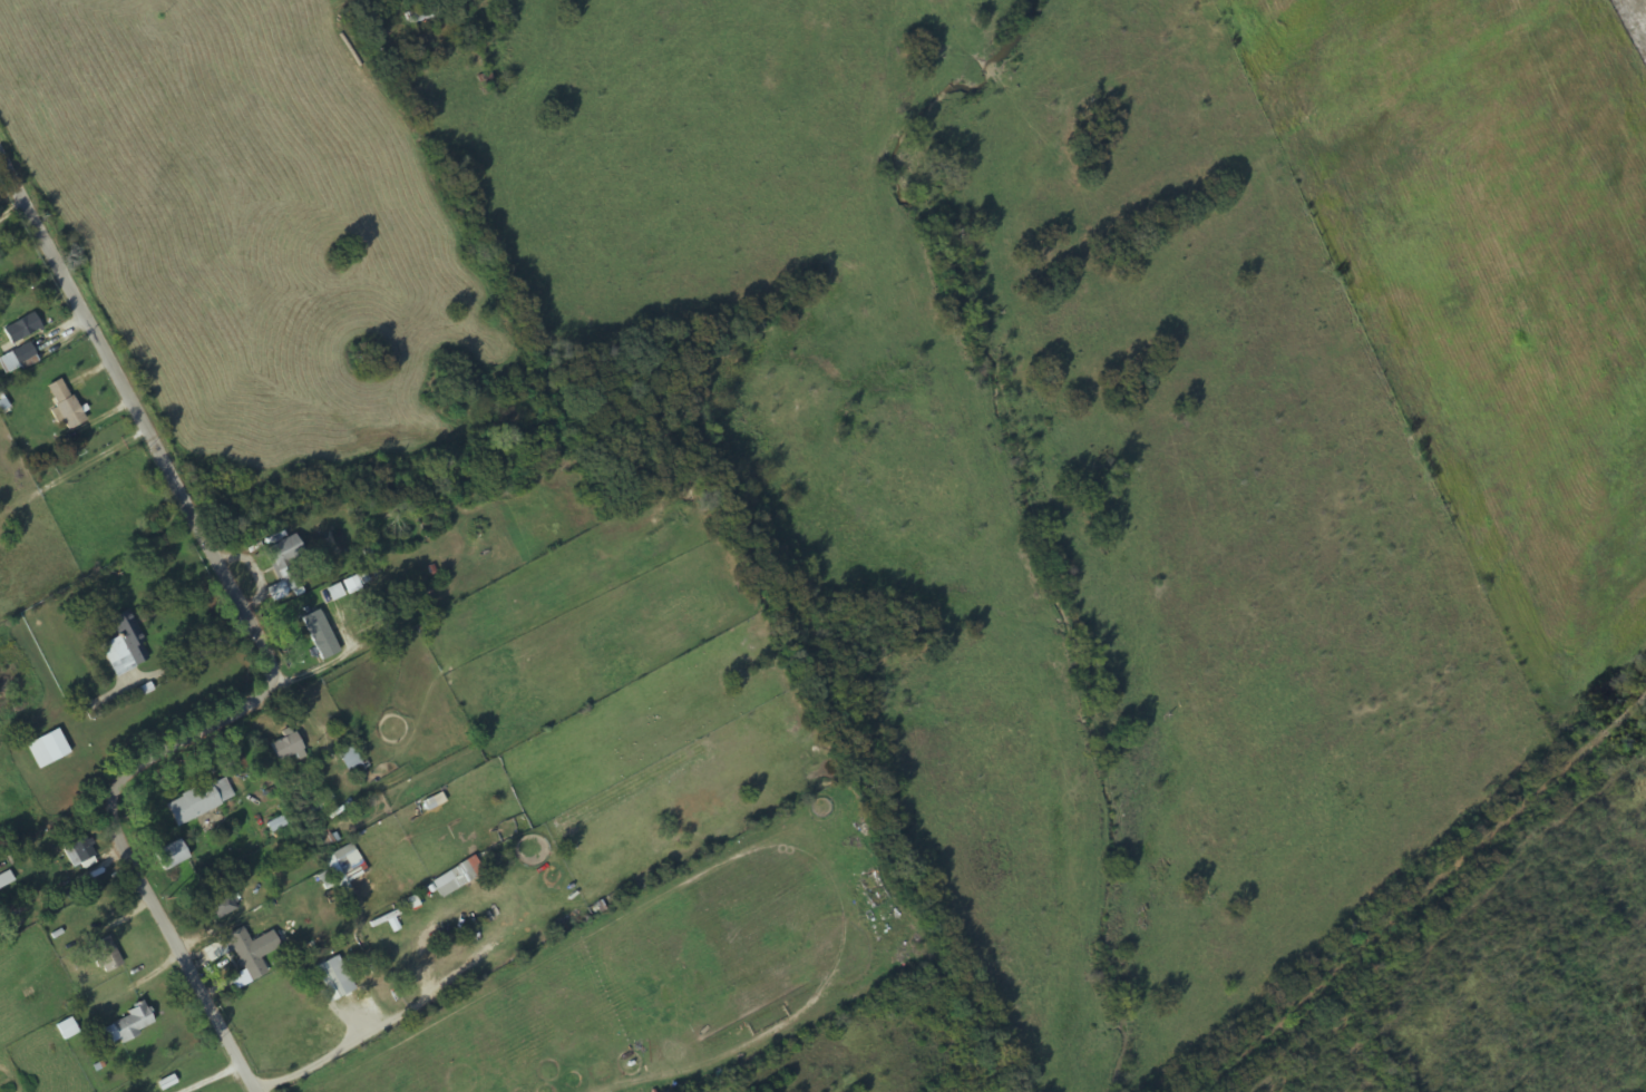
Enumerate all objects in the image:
building: (421, 18)
building: (0, 246)
building: (20, 329)
building: (23, 357)
building: (64, 406)
building: (284, 565)
building: (319, 634)
building: (125, 645)
road: (265, 647)
building: (286, 748)
building: (47, 749)
building: (350, 760)
building: (199, 801)
building: (309, 808)
building: (77, 849)
building: (169, 856)
building: (4, 879)
building: (445, 885)
railway: (1418, 889)
building: (222, 901)
building: (250, 950)
building: (105, 955)
building: (329, 981)
building: (125, 1026)
building: (67, 1028)

